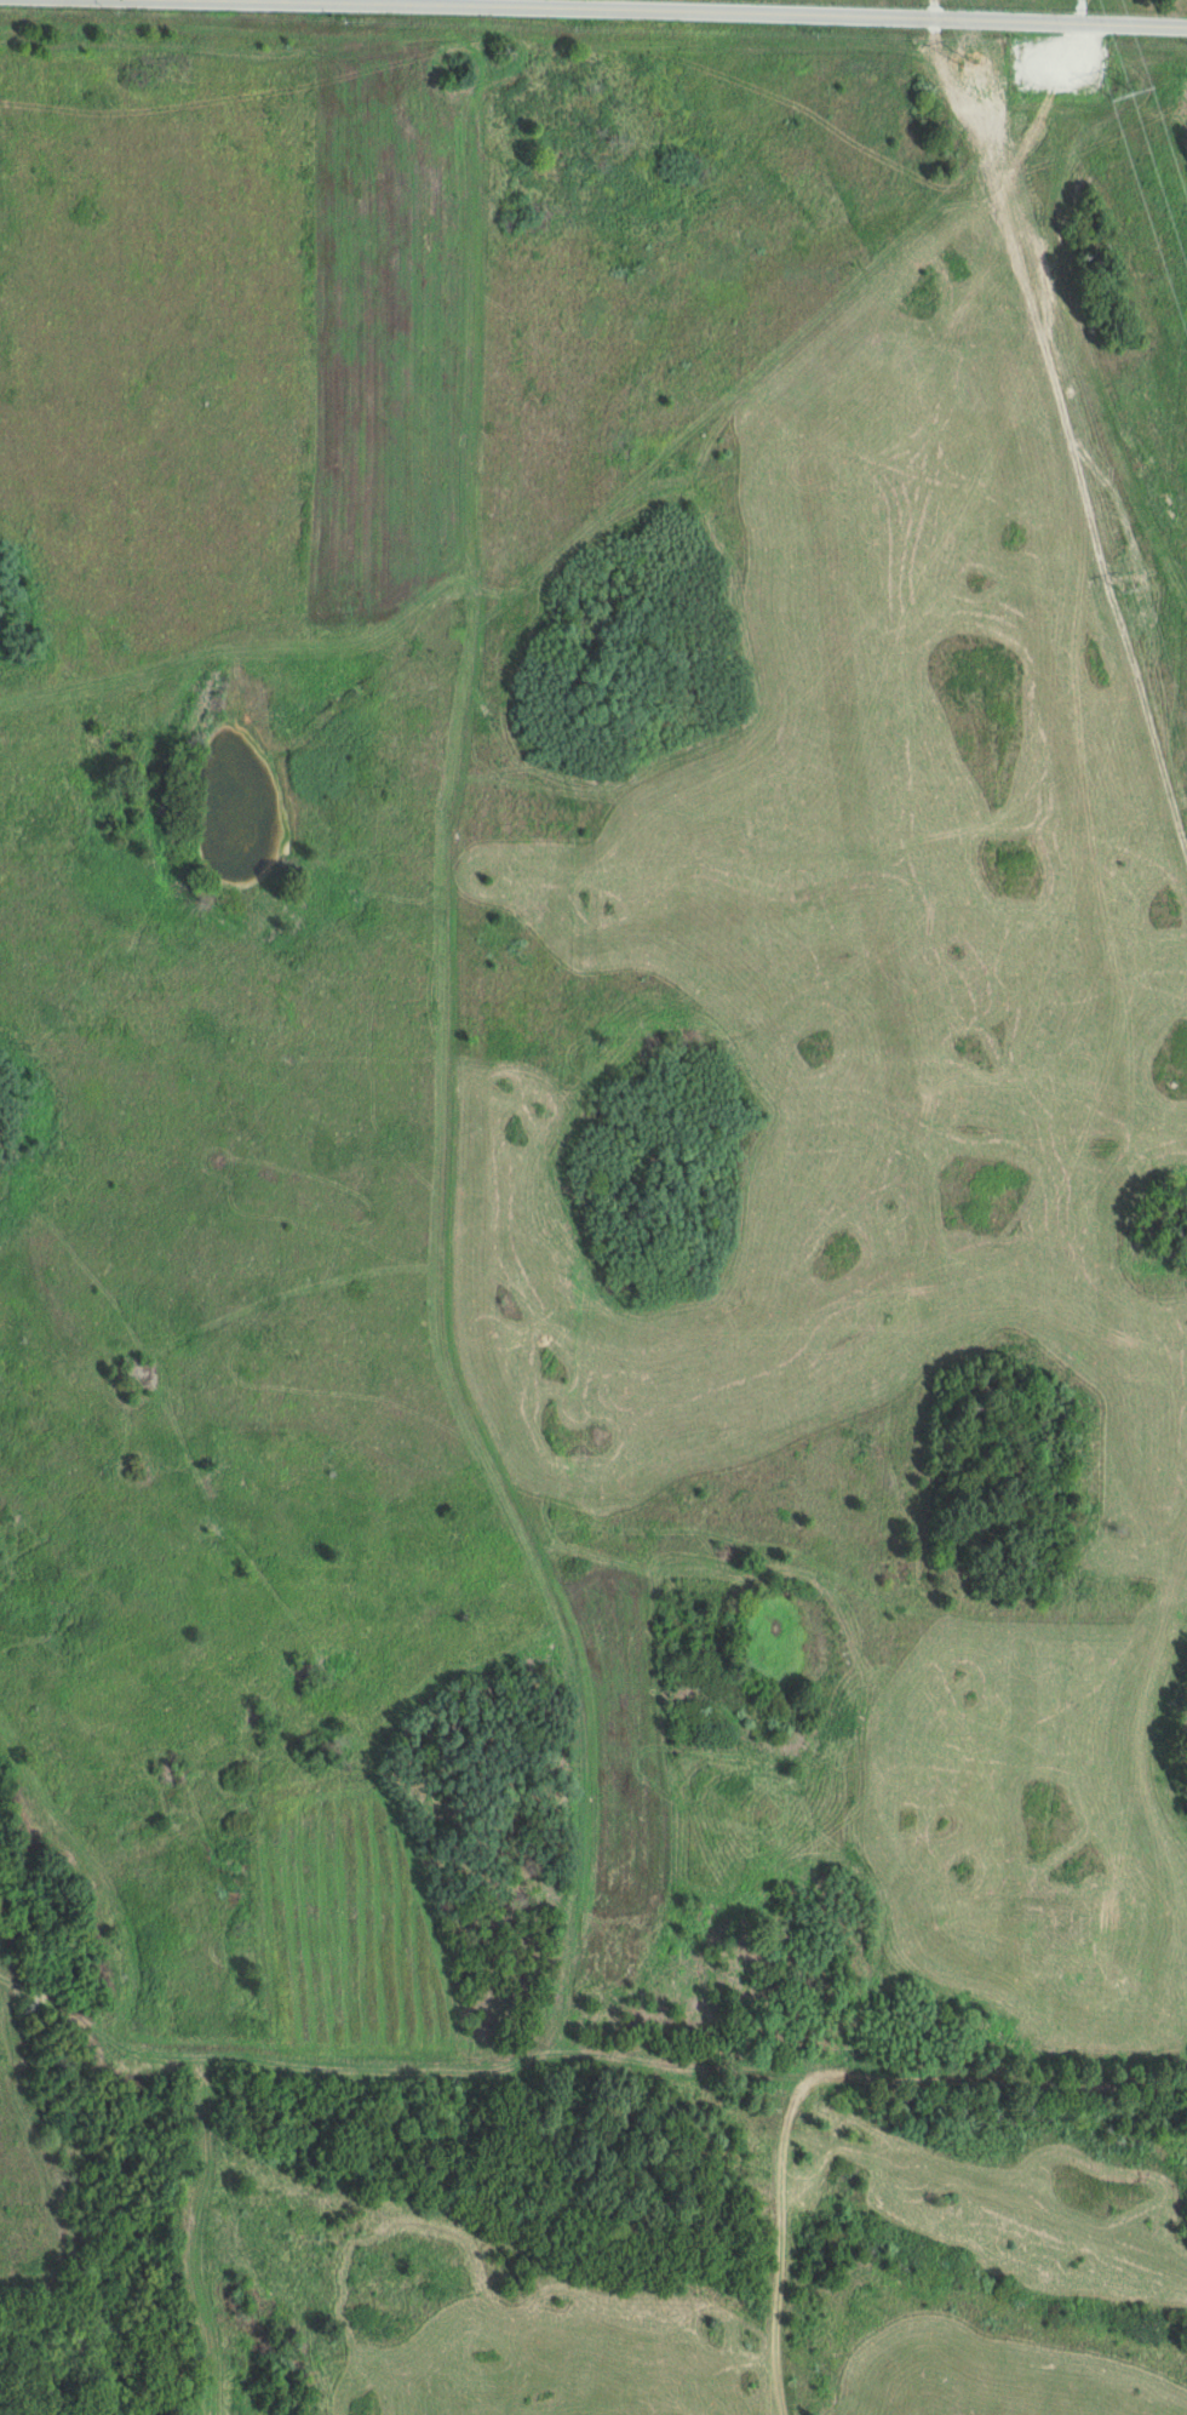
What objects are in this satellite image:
road: (593, 19)
power tower: (968, 67)
power tower: (1126, 96)
power tower: (1125, 588)

